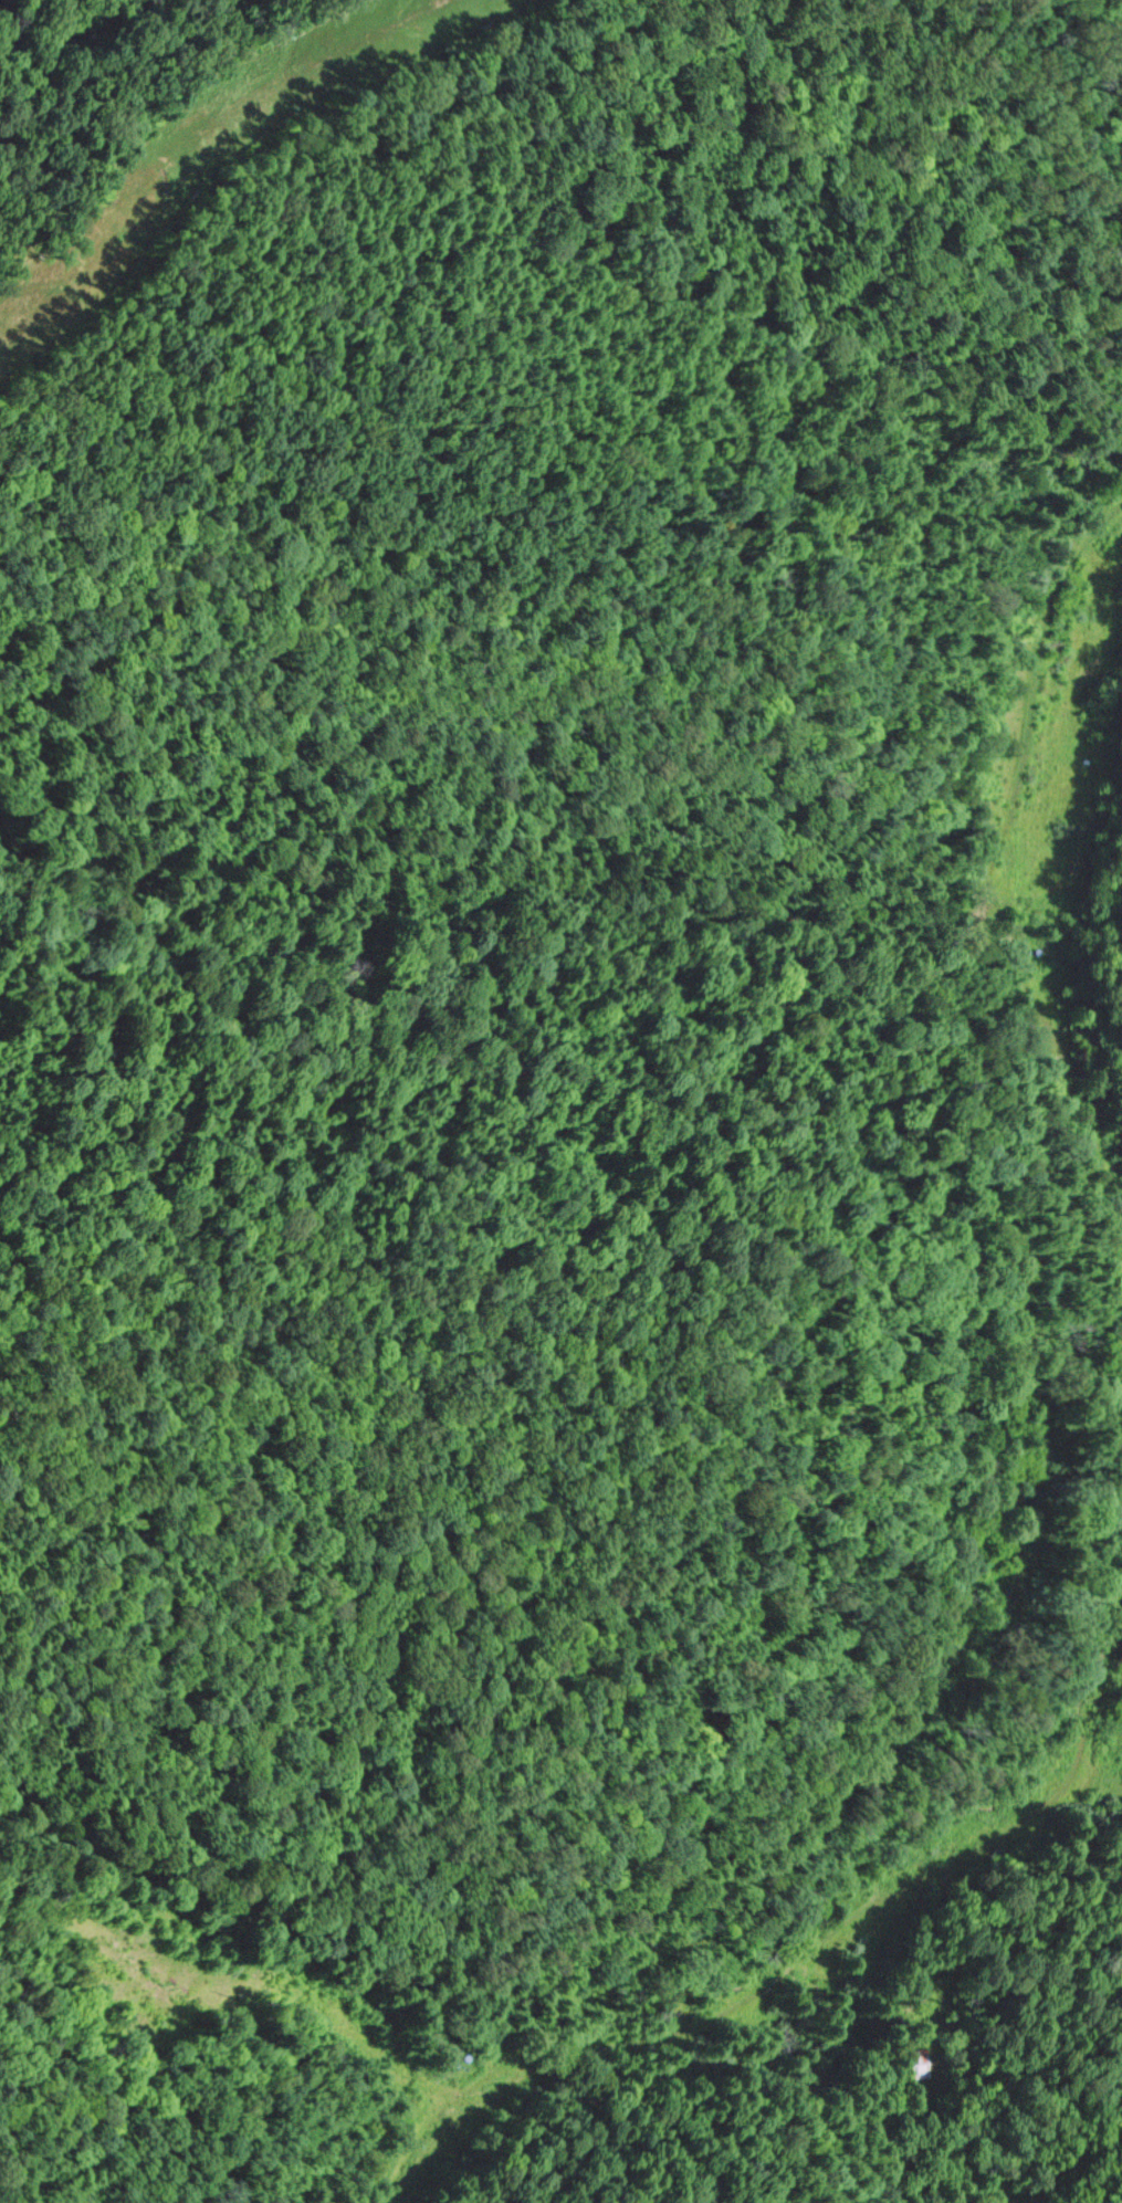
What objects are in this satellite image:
building: (916, 2064)

